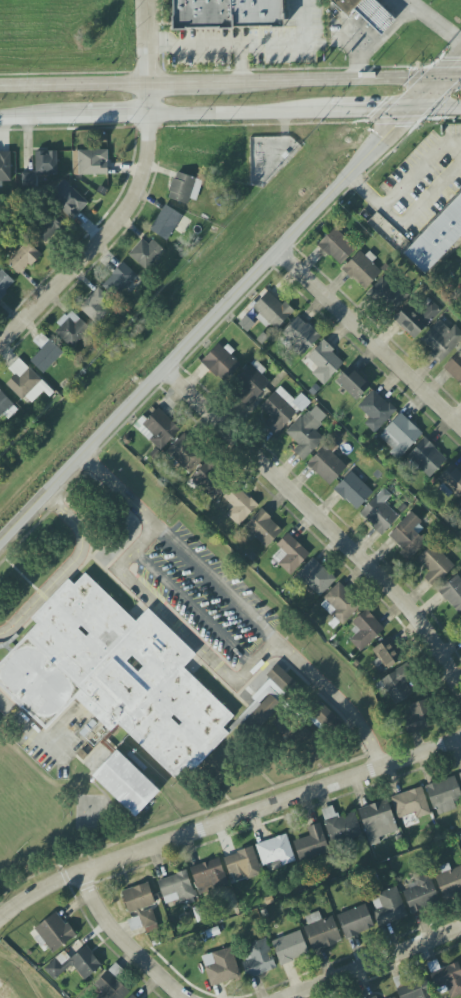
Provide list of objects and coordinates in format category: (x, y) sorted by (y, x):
building: (367, 13)
building: (226, 14)
road: (434, 22)
road: (382, 42)
road: (247, 45)
traffic signals: (460, 61)
road: (241, 65)
road: (448, 81)
road: (332, 84)
road: (189, 85)
road: (75, 87)
road: (434, 111)
road: (369, 113)
traffic signals: (374, 113)
road: (240, 114)
road: (119, 116)
road: (44, 118)
traffic signals: (395, 125)
power substation: (269, 157)
building: (89, 162)
building: (46, 163)
building: (5, 167)
parking lot: (429, 172)
road: (401, 184)
building: (184, 188)
road: (132, 196)
building: (68, 199)
road: (421, 203)
building: (165, 222)
building: (50, 229)
building: (437, 238)
building: (336, 246)
building: (145, 253)
building: (23, 258)
building: (362, 269)
building: (119, 279)
building: (4, 283)
building: (387, 295)
road: (230, 301)
building: (96, 305)
building: (272, 311)
building: (416, 318)
building: (71, 329)
building: (300, 335)
road: (369, 339)
building: (441, 340)
building: (45, 353)
building: (221, 362)
building: (323, 362)
building: (454, 367)
building: (26, 382)
building: (250, 383)
building: (353, 383)
building: (4, 405)
building: (281, 409)
building: (375, 410)
building: (159, 429)
building: (305, 434)
building: (399, 435)
building: (185, 454)
building: (426, 458)
building: (327, 464)
building: (450, 481)
building: (208, 482)
road: (121, 490)
building: (353, 490)
building: (239, 504)
building: (459, 504)
building: (379, 512)
road: (324, 524)
building: (263, 528)
building: (408, 536)
road: (137, 548)
building: (289, 554)
building: (434, 564)
road: (66, 569)
road: (21, 574)
building: (315, 577)
road: (217, 585)
building: (452, 593)
building: (340, 604)
road: (194, 609)
building: (365, 630)
road: (197, 646)
building: (388, 653)
building: (113, 675)
building: (397, 685)
building: (269, 697)
road: (336, 700)
building: (417, 718)
road: (40, 738)
road: (251, 763)
building: (460, 775)
building: (125, 783)
road: (215, 787)
building: (444, 795)
building: (411, 804)
road: (111, 809)
road: (184, 820)
road: (227, 821)
building: (377, 821)
building: (341, 826)
building: (311, 844)
building: (275, 853)
building: (242, 865)
road: (64, 871)
building: (208, 876)
building: (449, 881)
building: (175, 888)
building: (420, 893)
building: (140, 903)
building: (388, 906)
building: (355, 921)
building: (321, 931)
building: (55, 932)
road: (127, 940)
building: (290, 948)
building: (258, 959)
road: (376, 963)
building: (75, 964)
building: (220, 967)
building: (446, 978)
building: (110, 987)
building: (411, 988)
building: (131, 996)
building: (374, 997)
building: (394, 997)

